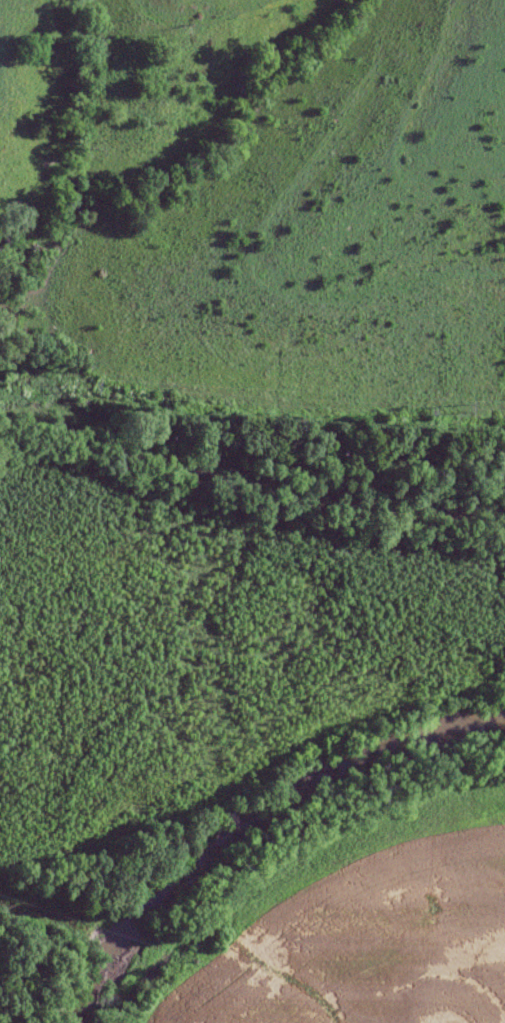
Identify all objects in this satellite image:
power tower: (89, 385)
power tower: (462, 406)

